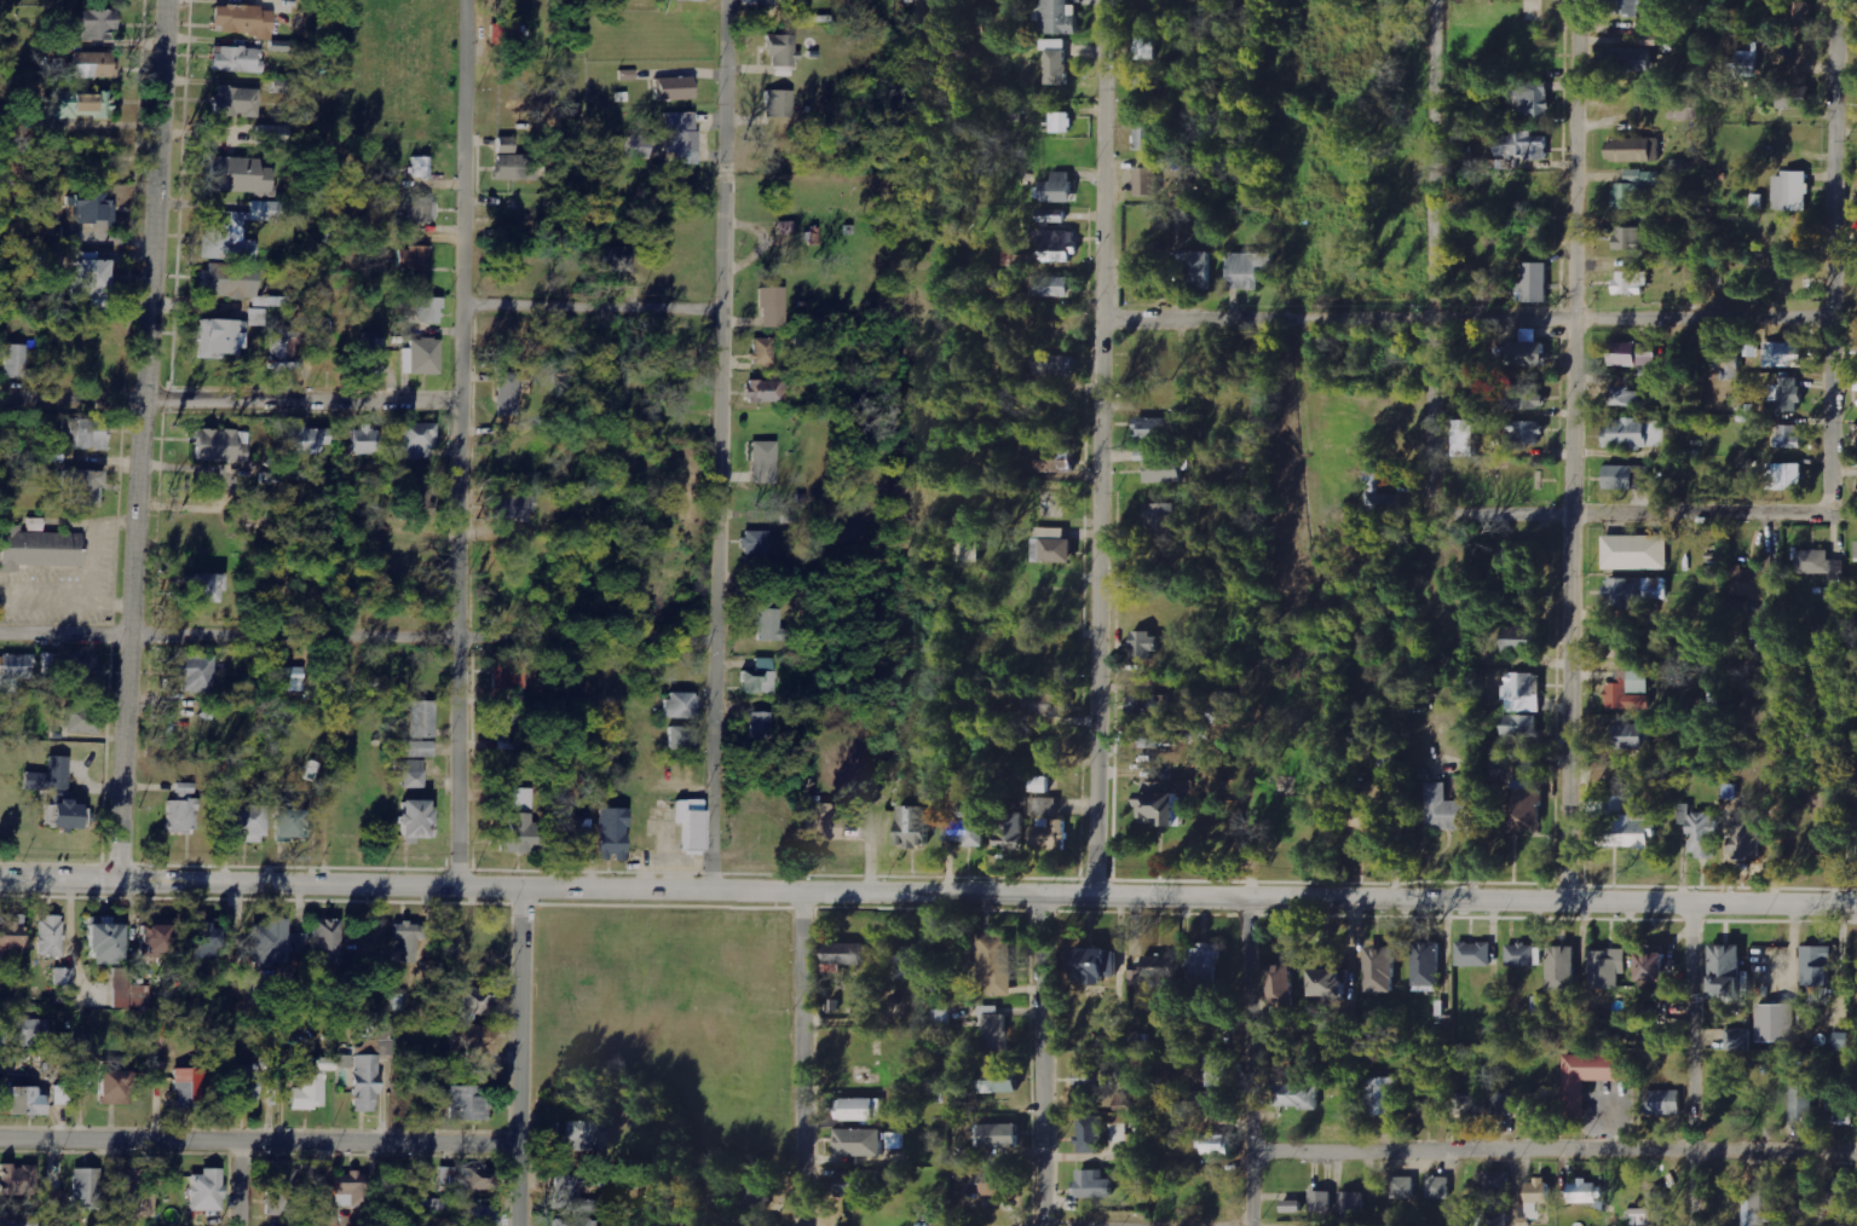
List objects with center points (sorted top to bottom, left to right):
building: (697, 0)
building: (768, 2)
building: (1628, 7)
building: (1800, 10)
building: (1057, 17)
building: (242, 21)
building: (98, 25)
building: (506, 33)
building: (1147, 47)
building: (783, 51)
building: (237, 59)
building: (1633, 59)
building: (1056, 60)
building: (1747, 63)
building: (92, 65)
building: (1147, 86)
building: (675, 89)
building: (1534, 98)
building: (1797, 98)
building: (236, 103)
building: (779, 104)
building: (79, 105)
building: (1688, 108)
building: (1061, 122)
building: (272, 135)
building: (682, 137)
building: (1149, 137)
building: (1522, 145)
building: (640, 146)
building: (1633, 150)
building: (514, 163)
building: (421, 168)
building: (240, 175)
building: (1148, 181)
building: (1057, 187)
building: (1634, 189)
building: (1793, 191)
building: (1758, 202)
building: (93, 208)
building: (417, 209)
building: (265, 210)
road: (1832, 215)
building: (1211, 224)
building: (785, 229)
building: (71, 236)
building: (1628, 238)
building: (229, 239)
road: (1431, 239)
building: (1059, 245)
building: (619, 260)
building: (415, 262)
building: (1247, 270)
building: (230, 282)
building: (1631, 282)
building: (1054, 287)
building: (1146, 287)
road: (592, 307)
building: (773, 307)
building: (431, 311)
road: (1466, 313)
building: (220, 339)
building: (283, 352)
building: (763, 352)
building: (1633, 354)
building: (1786, 354)
building: (373, 357)
building: (422, 358)
building: (16, 362)
building: (1055, 364)
building: (767, 392)
building: (508, 394)
building: (1788, 394)
building: (1624, 395)
building: (1526, 397)
road: (229, 399)
building: (1158, 429)
building: (1637, 433)
building: (1524, 434)
building: (86, 435)
building: (1789, 435)
building: (1470, 438)
road: (139, 440)
building: (308, 440)
building: (364, 441)
building: (416, 441)
road: (460, 443)
road: (719, 445)
building: (221, 446)
road: (1100, 447)
road: (1571, 450)
building: (1056, 461)
building: (765, 463)
building: (1164, 469)
building: (1786, 475)
building: (1628, 476)
building: (83, 488)
building: (1383, 498)
building: (422, 505)
building: (515, 507)
road: (1656, 510)
building: (1160, 519)
building: (757, 544)
building: (1054, 545)
building: (969, 547)
building: (39, 550)
building: (1856, 550)
building: (1637, 551)
building: (1813, 561)
building: (1747, 582)
building: (204, 589)
building: (1636, 590)
building: (769, 625)
road: (357, 638)
building: (1521, 640)
building: (1144, 644)
building: (74, 669)
building: (15, 671)
building: (195, 675)
building: (509, 676)
building: (290, 678)
building: (760, 678)
building: (1524, 692)
building: (1630, 692)
building: (1146, 704)
building: (681, 705)
building: (1044, 705)
building: (1222, 707)
building: (423, 719)
building: (81, 721)
building: (761, 725)
building: (1521, 725)
building: (507, 733)
building: (1631, 736)
building: (684, 739)
building: (1150, 739)
building: (421, 750)
building: (413, 773)
building: (1040, 785)
building: (1160, 787)
building: (58, 793)
building: (521, 800)
building: (1045, 806)
building: (1165, 809)
building: (1448, 810)
building: (1528, 810)
building: (1684, 814)
building: (181, 815)
building: (416, 821)
building: (247, 823)
building: (290, 823)
building: (824, 823)
building: (692, 825)
building: (1624, 825)
building: (916, 826)
building: (967, 826)
building: (1010, 829)
building: (518, 834)
building: (613, 834)
building: (1051, 834)
building: (1703, 834)
building: (1746, 834)
building: (575, 837)
building: (1855, 839)
road: (928, 894)
building: (50, 936)
building: (155, 937)
building: (11, 938)
building: (105, 941)
building: (204, 941)
building: (325, 941)
building: (408, 941)
building: (269, 943)
building: (1475, 954)
building: (844, 955)
building: (1524, 955)
building: (911, 962)
building: (998, 964)
building: (1097, 965)
building: (1428, 966)
building: (1818, 966)
building: (1206, 967)
building: (1655, 967)
building: (1563, 968)
building: (1608, 968)
building: (1382, 970)
building: (1728, 971)
building: (63, 976)
building: (1136, 977)
building: (1331, 984)
building: (128, 990)
building: (474, 1000)
building: (942, 1016)
building: (1777, 1023)
building: (997, 1030)
building: (24, 1031)
building: (474, 1037)
building: (1738, 1039)
building: (1845, 1040)
road: (518, 1057)
road: (811, 1059)
road: (1042, 1060)
road: (1245, 1062)
road: (1689, 1064)
building: (1284, 1066)
building: (1215, 1070)
building: (1591, 1074)
building: (1098, 1076)
building: (1000, 1080)
building: (365, 1082)
building: (244, 1086)
building: (113, 1087)
building: (189, 1088)
building: (308, 1093)
building: (1297, 1094)
building: (62, 1095)
building: (1383, 1095)
building: (1801, 1099)
building: (24, 1100)
building: (1210, 1100)
building: (467, 1101)
building: (1663, 1101)
building: (1501, 1103)
building: (1538, 1103)
building: (1465, 1105)
building: (860, 1109)
building: (1840, 1111)
building: (1118, 1120)
building: (998, 1134)
building: (1091, 1134)
building: (587, 1135)
building: (895, 1140)
building: (860, 1141)
road: (258, 1144)
building: (1215, 1144)
road: (1551, 1150)
building: (56, 1176)
building: (449, 1176)
building: (477, 1179)
building: (16, 1180)
building: (858, 1182)
building: (1498, 1182)
building: (993, 1184)
building: (1094, 1184)
road: (233, 1185)
building: (1438, 1186)
building: (1403, 1187)
road: (1512, 1187)
building: (86, 1189)
building: (351, 1189)
building: (207, 1190)
building: (137, 1192)
building: (283, 1192)
building: (1586, 1192)
building: (757, 1193)
building: (571, 1196)
building: (1841, 1196)
building: (1322, 1201)
building: (1353, 1201)
building: (1535, 1201)
building: (1761, 1203)
building: (1292, 1205)
building: (1653, 1208)
building: (479, 1215)
building: (1493, 1218)
building: (17, 1219)
building: (573, 1221)
building: (756, 1221)
road: (1146, 1222)

